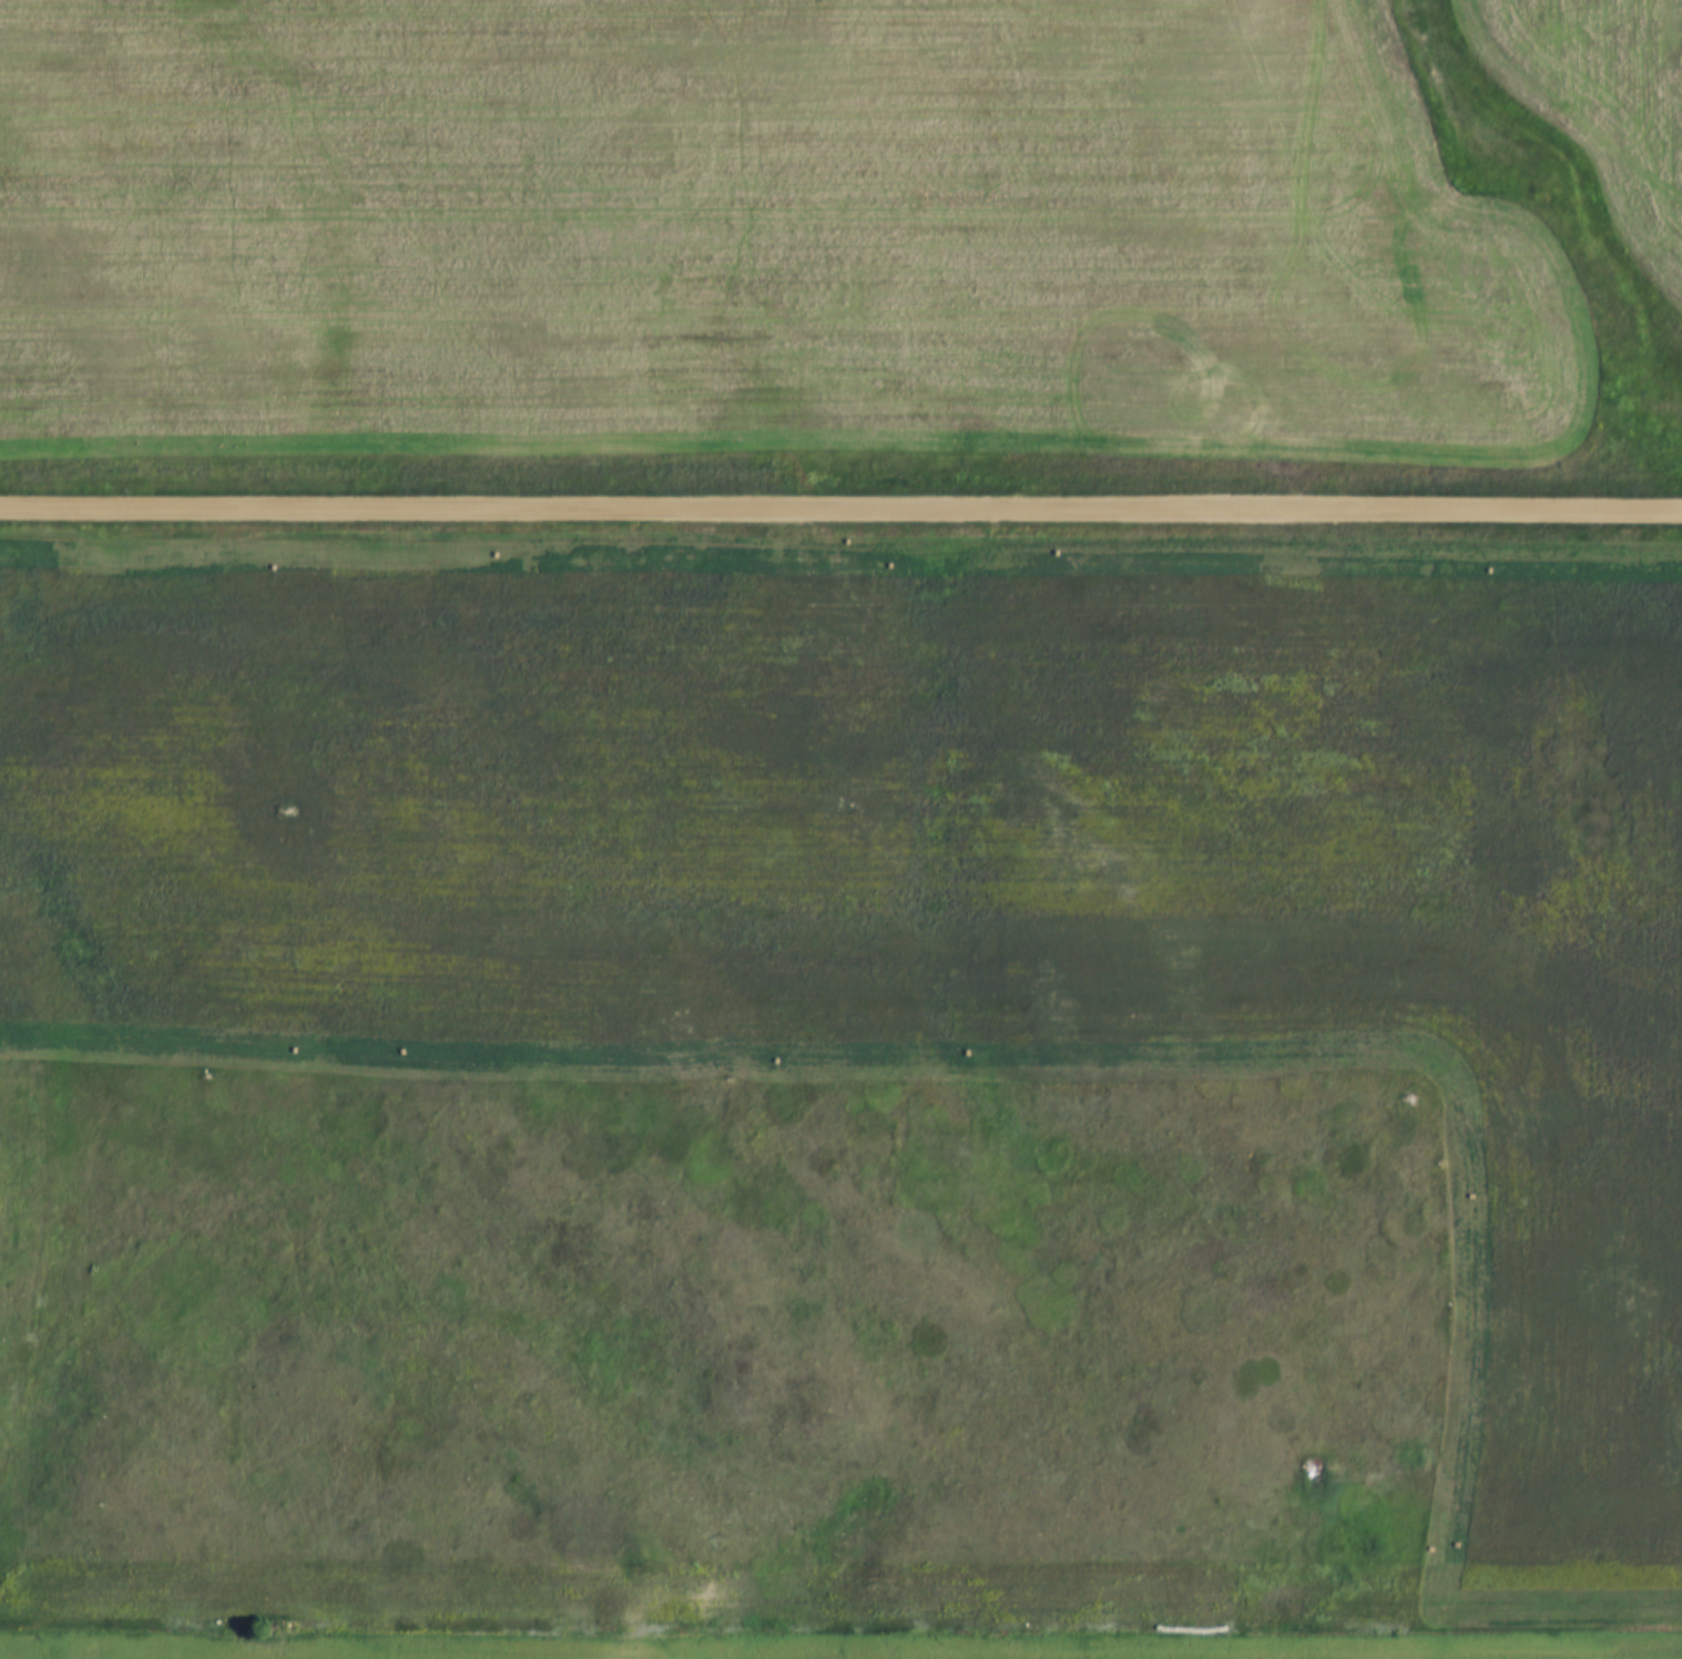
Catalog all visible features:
road: (840, 512)

